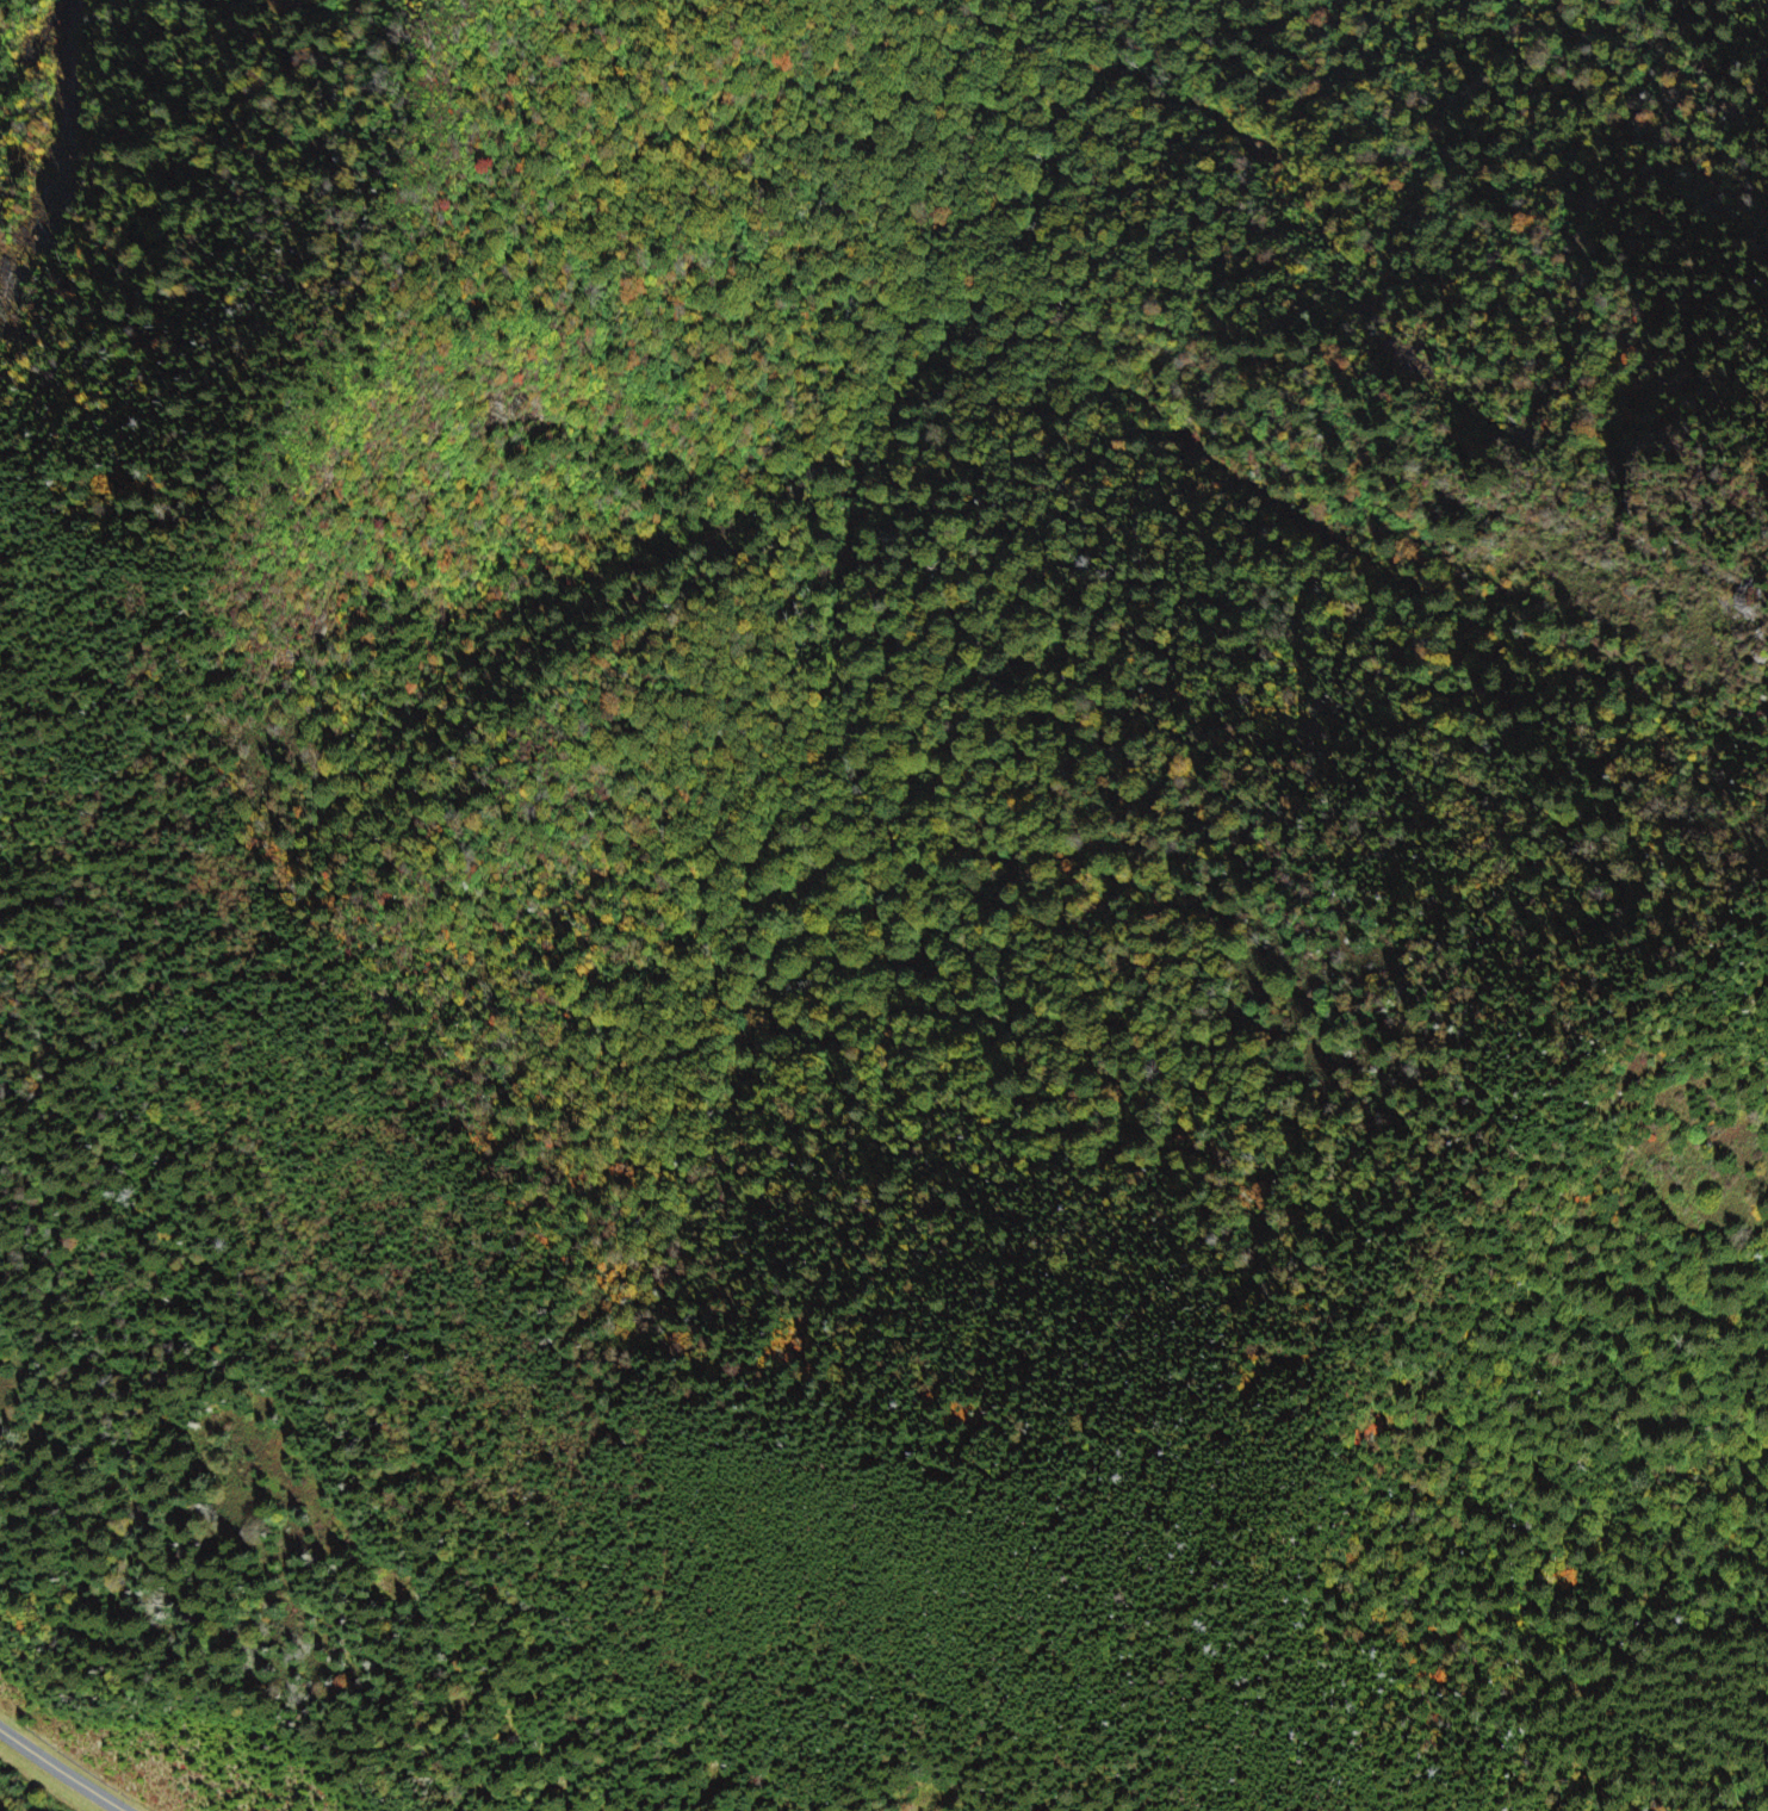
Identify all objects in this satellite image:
road: (1214, 1571)
road: (61, 1770)

